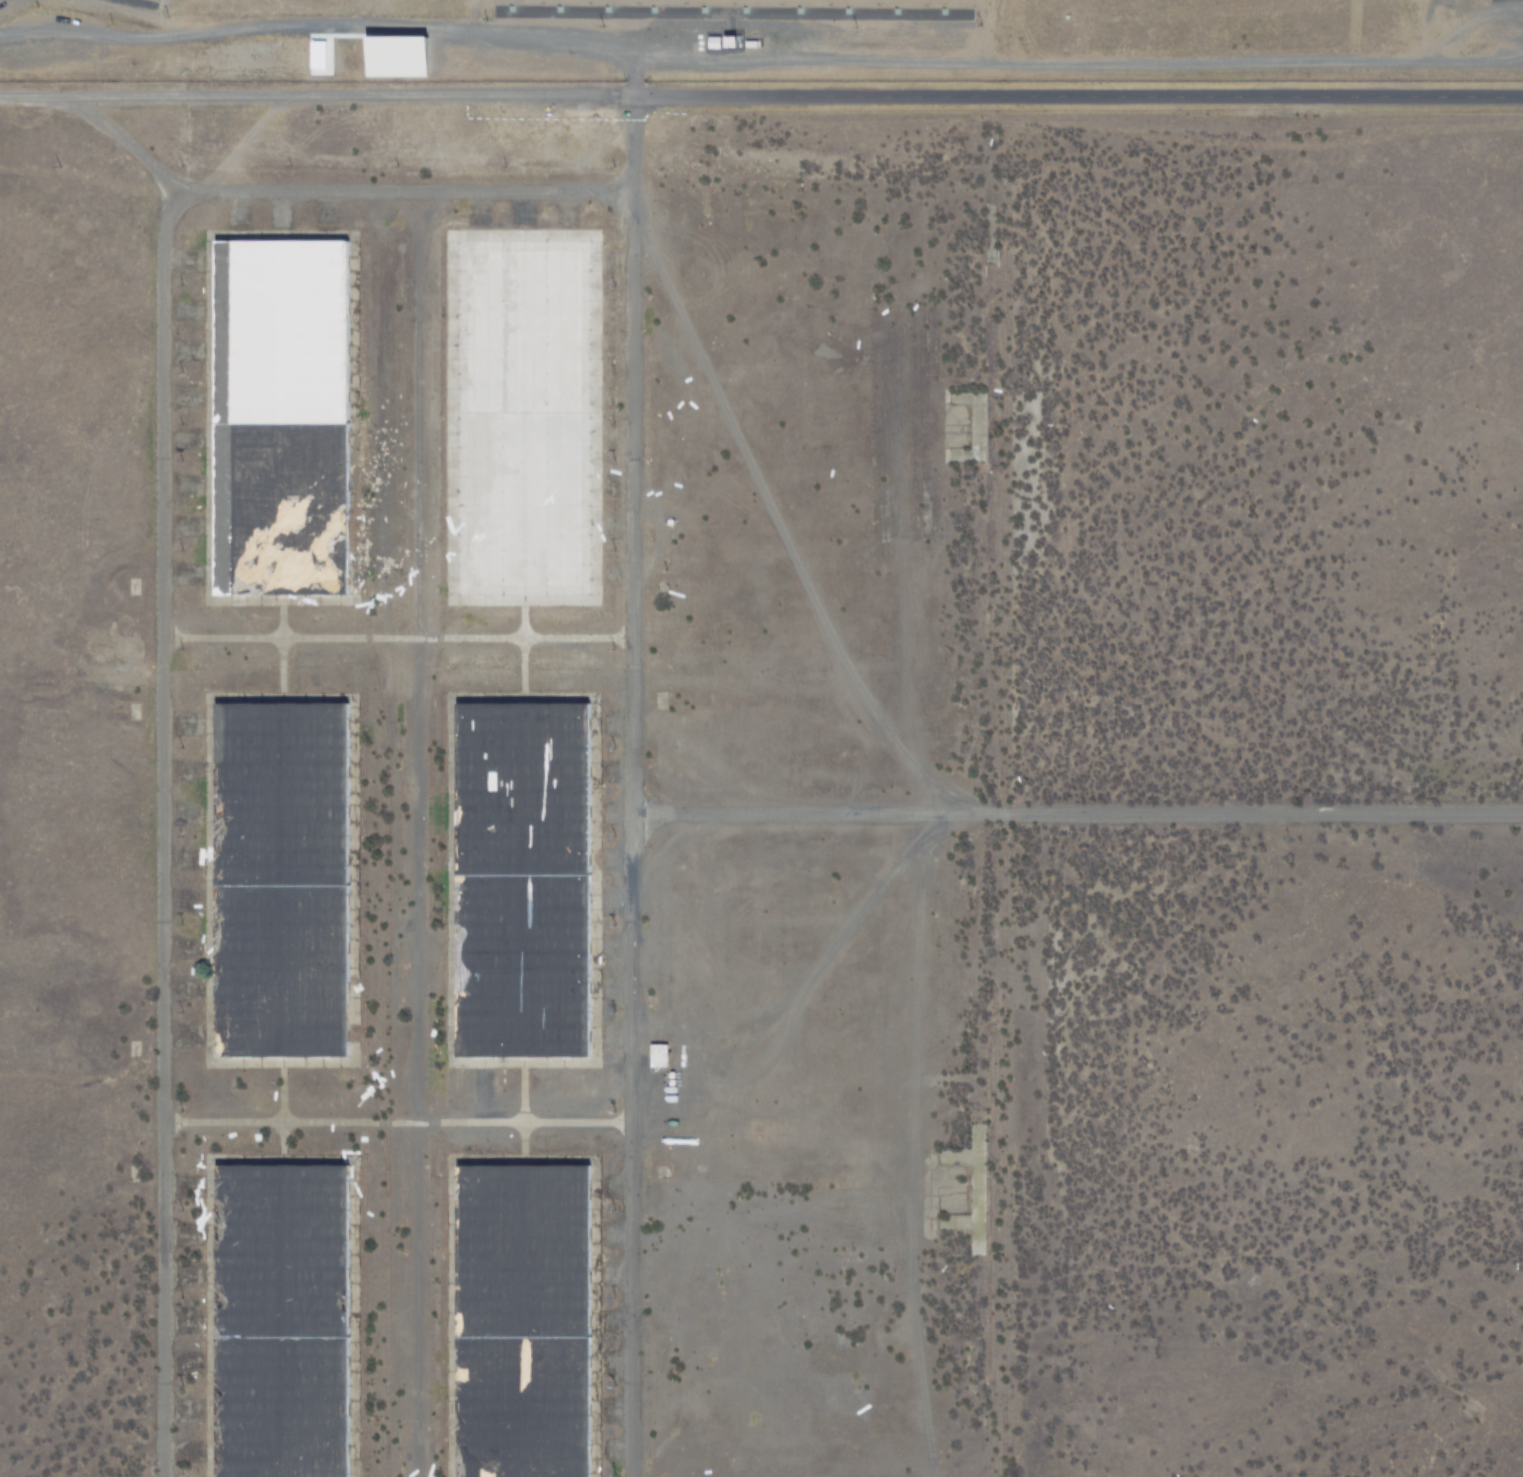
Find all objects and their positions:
road: (761, 102)
building: (521, 413)
building: (280, 415)
road: (140, 782)
road: (659, 790)
road: (1091, 815)
railway: (430, 853)
railway: (386, 857)
railway: (1001, 872)
building: (277, 876)
building: (521, 877)
railway: (442, 938)
railway: (361, 945)
building: (658, 1056)
railway: (442, 1315)
building: (278, 1318)
railway: (360, 1318)
building: (523, 1318)

